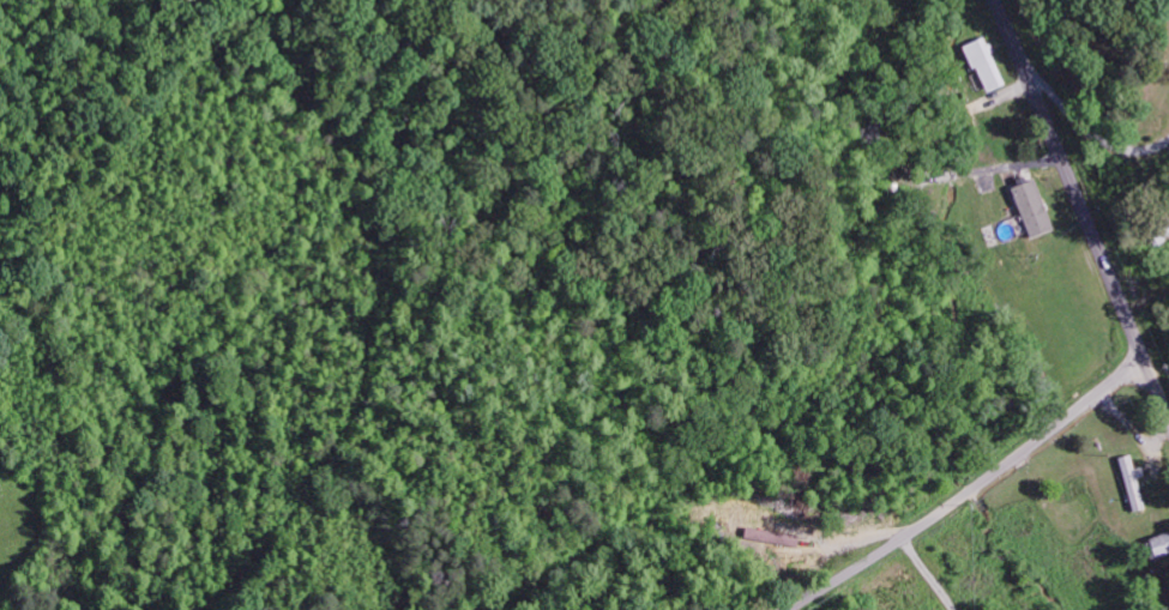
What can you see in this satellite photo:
building: (982, 68)
road: (1083, 210)
building: (1029, 212)
building: (1128, 484)
road: (972, 489)
building: (769, 539)
building: (1157, 546)

